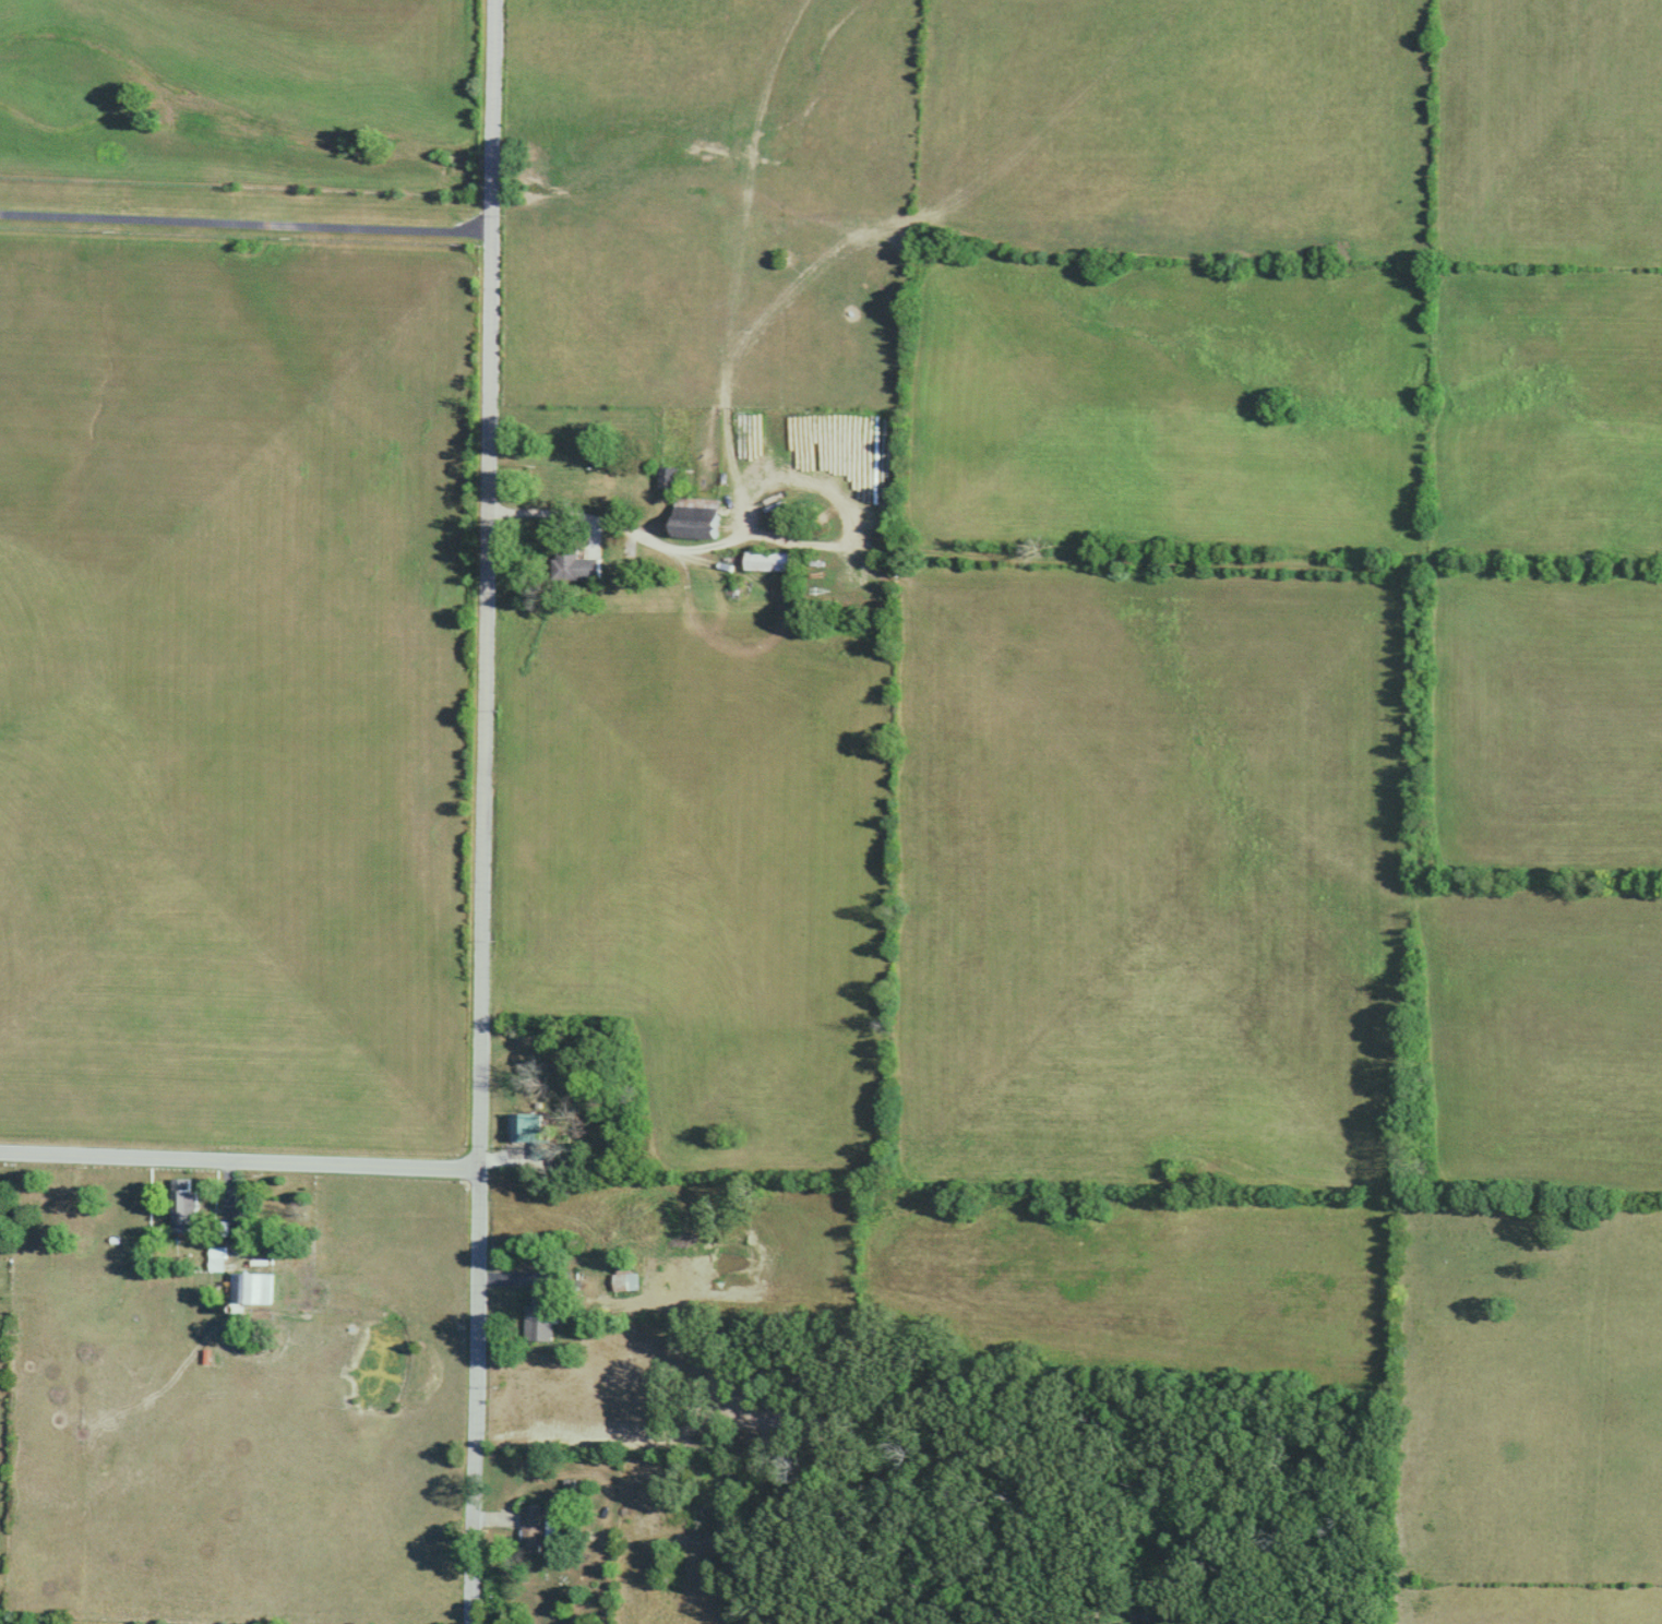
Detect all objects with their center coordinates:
road: (244, 223)
building: (668, 478)
road: (551, 511)
building: (713, 514)
building: (773, 561)
building: (576, 564)
road: (480, 811)
building: (530, 1130)
road: (238, 1159)
building: (187, 1205)
building: (220, 1258)
building: (626, 1276)
building: (253, 1288)
building: (541, 1315)
building: (536, 1528)

